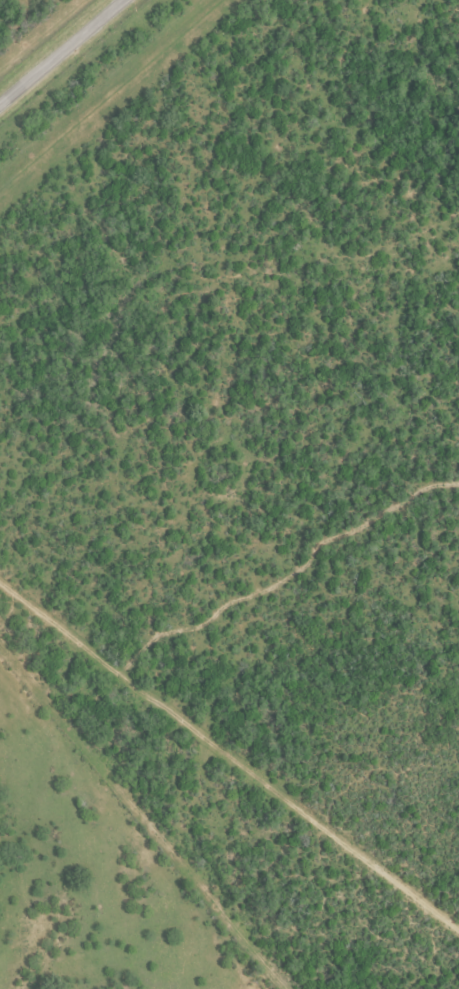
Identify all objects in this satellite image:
road: (64, 54)

